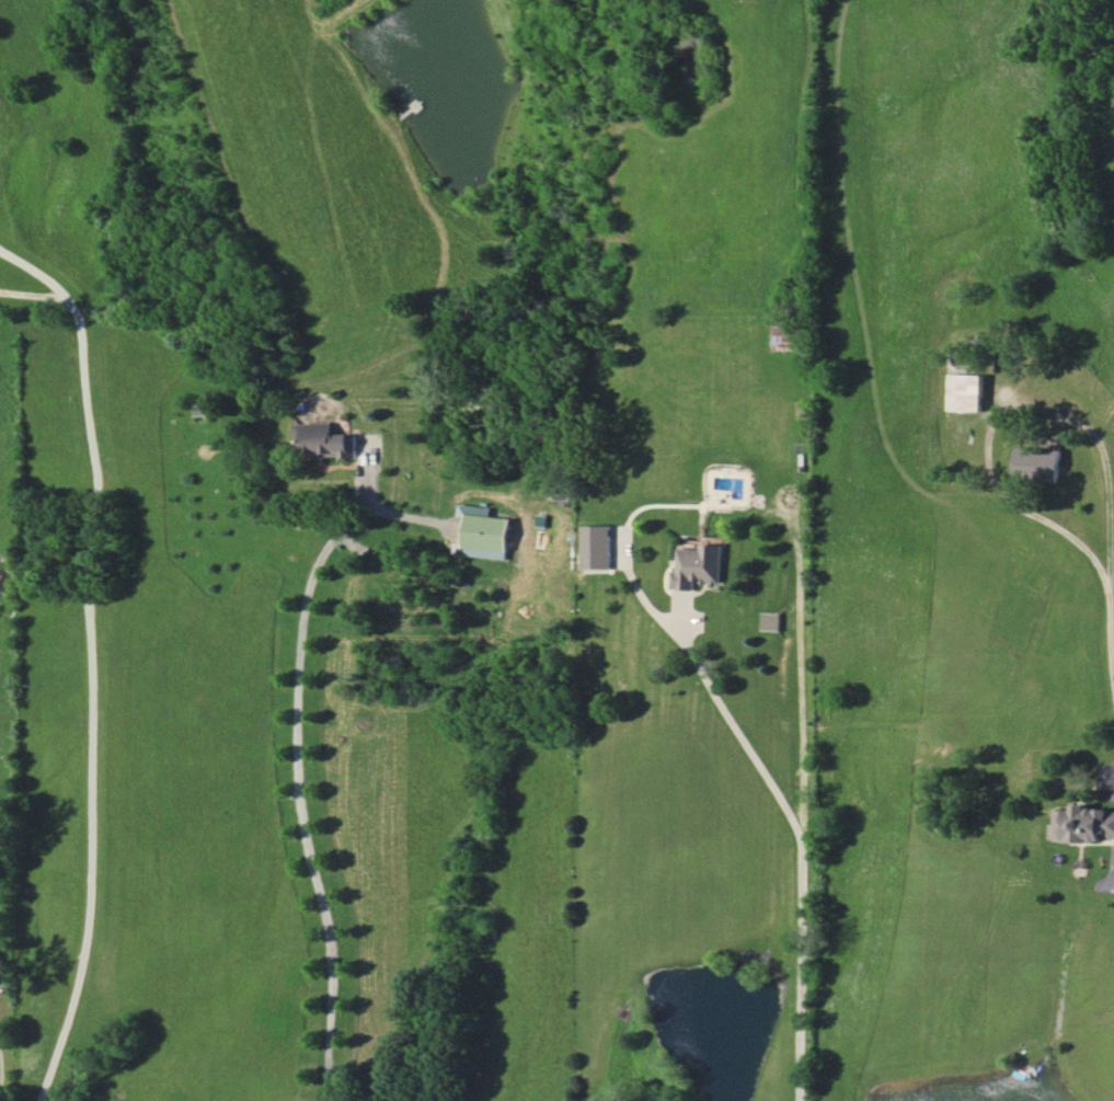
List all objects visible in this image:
building: (964, 392)
building: (205, 409)
building: (326, 440)
building: (1040, 463)
building: (484, 532)
building: (598, 546)
building: (700, 565)
road: (1111, 586)
road: (87, 656)
road: (740, 734)
road: (301, 802)
building: (1090, 823)
road: (801, 973)

